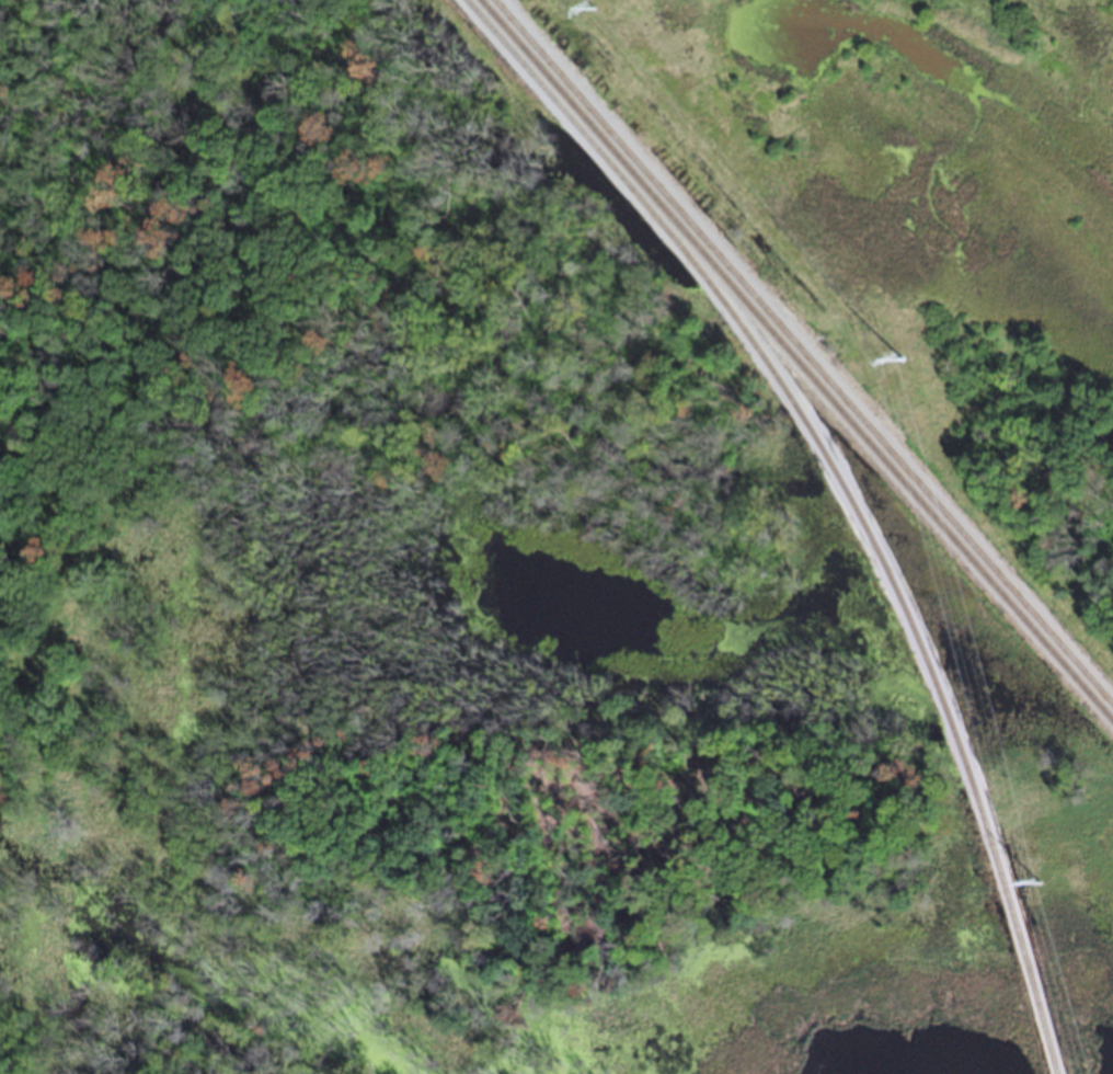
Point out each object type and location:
power tower: (594, 16)
railway: (800, 356)
railway: (792, 365)
power tower: (902, 367)
railway: (840, 490)
power tower: (1037, 891)

